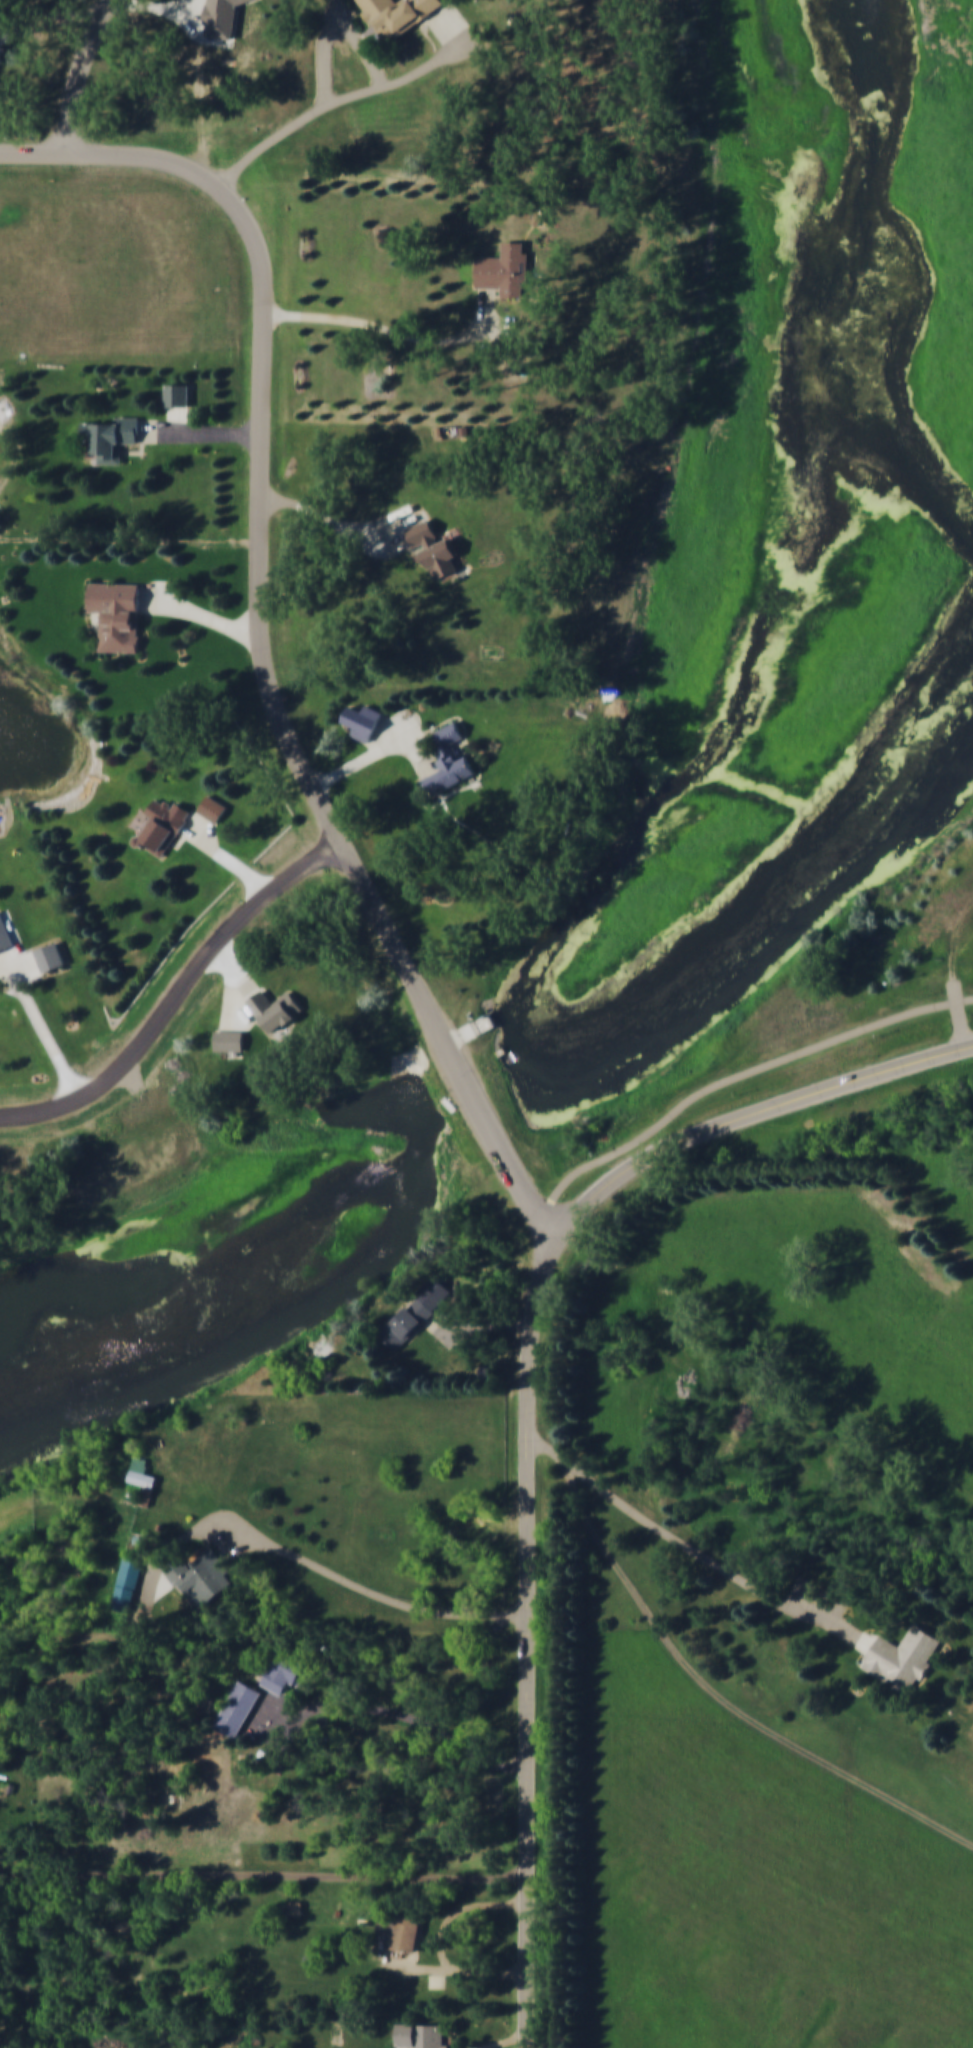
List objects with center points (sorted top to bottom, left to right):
road: (159, 6)
building: (400, 16)
building: (224, 18)
road: (58, 21)
road: (339, 28)
building: (5, 42)
road: (78, 73)
road: (350, 94)
road: (114, 154)
building: (539, 217)
building: (509, 266)
river: (855, 285)
road: (397, 332)
building: (180, 392)
park: (782, 416)
road: (179, 417)
road: (201, 432)
building: (113, 434)
road: (335, 525)
building: (437, 547)
road: (202, 611)
building: (119, 612)
building: (368, 718)
building: (452, 732)
road: (391, 733)
road: (291, 739)
road: (381, 751)
building: (451, 770)
building: (215, 807)
building: (165, 824)
road: (205, 826)
road: (227, 857)
river: (775, 909)
building: (5, 933)
building: (51, 955)
road: (26, 965)
road: (239, 970)
road: (181, 997)
road: (957, 1000)
road: (236, 1001)
building: (277, 1009)
road: (41, 1023)
building: (231, 1040)
road: (738, 1077)
river: (477, 1095)
road: (748, 1119)
river: (86, 1293)
building: (410, 1323)
road: (477, 1327)
river: (276, 1335)
building: (144, 1473)
road: (669, 1532)
road: (320, 1564)
building: (204, 1578)
building: (130, 1583)
road: (163, 1583)
road: (528, 1643)
building: (903, 1656)
building: (288, 1672)
road: (708, 1682)
building: (240, 1709)
road: (394, 1712)
road: (586, 1785)
building: (172, 1801)
road: (263, 1875)
building: (299, 1908)
road: (458, 1911)
building: (403, 1930)
road: (440, 1970)
building: (424, 2036)
road: (507, 2042)

